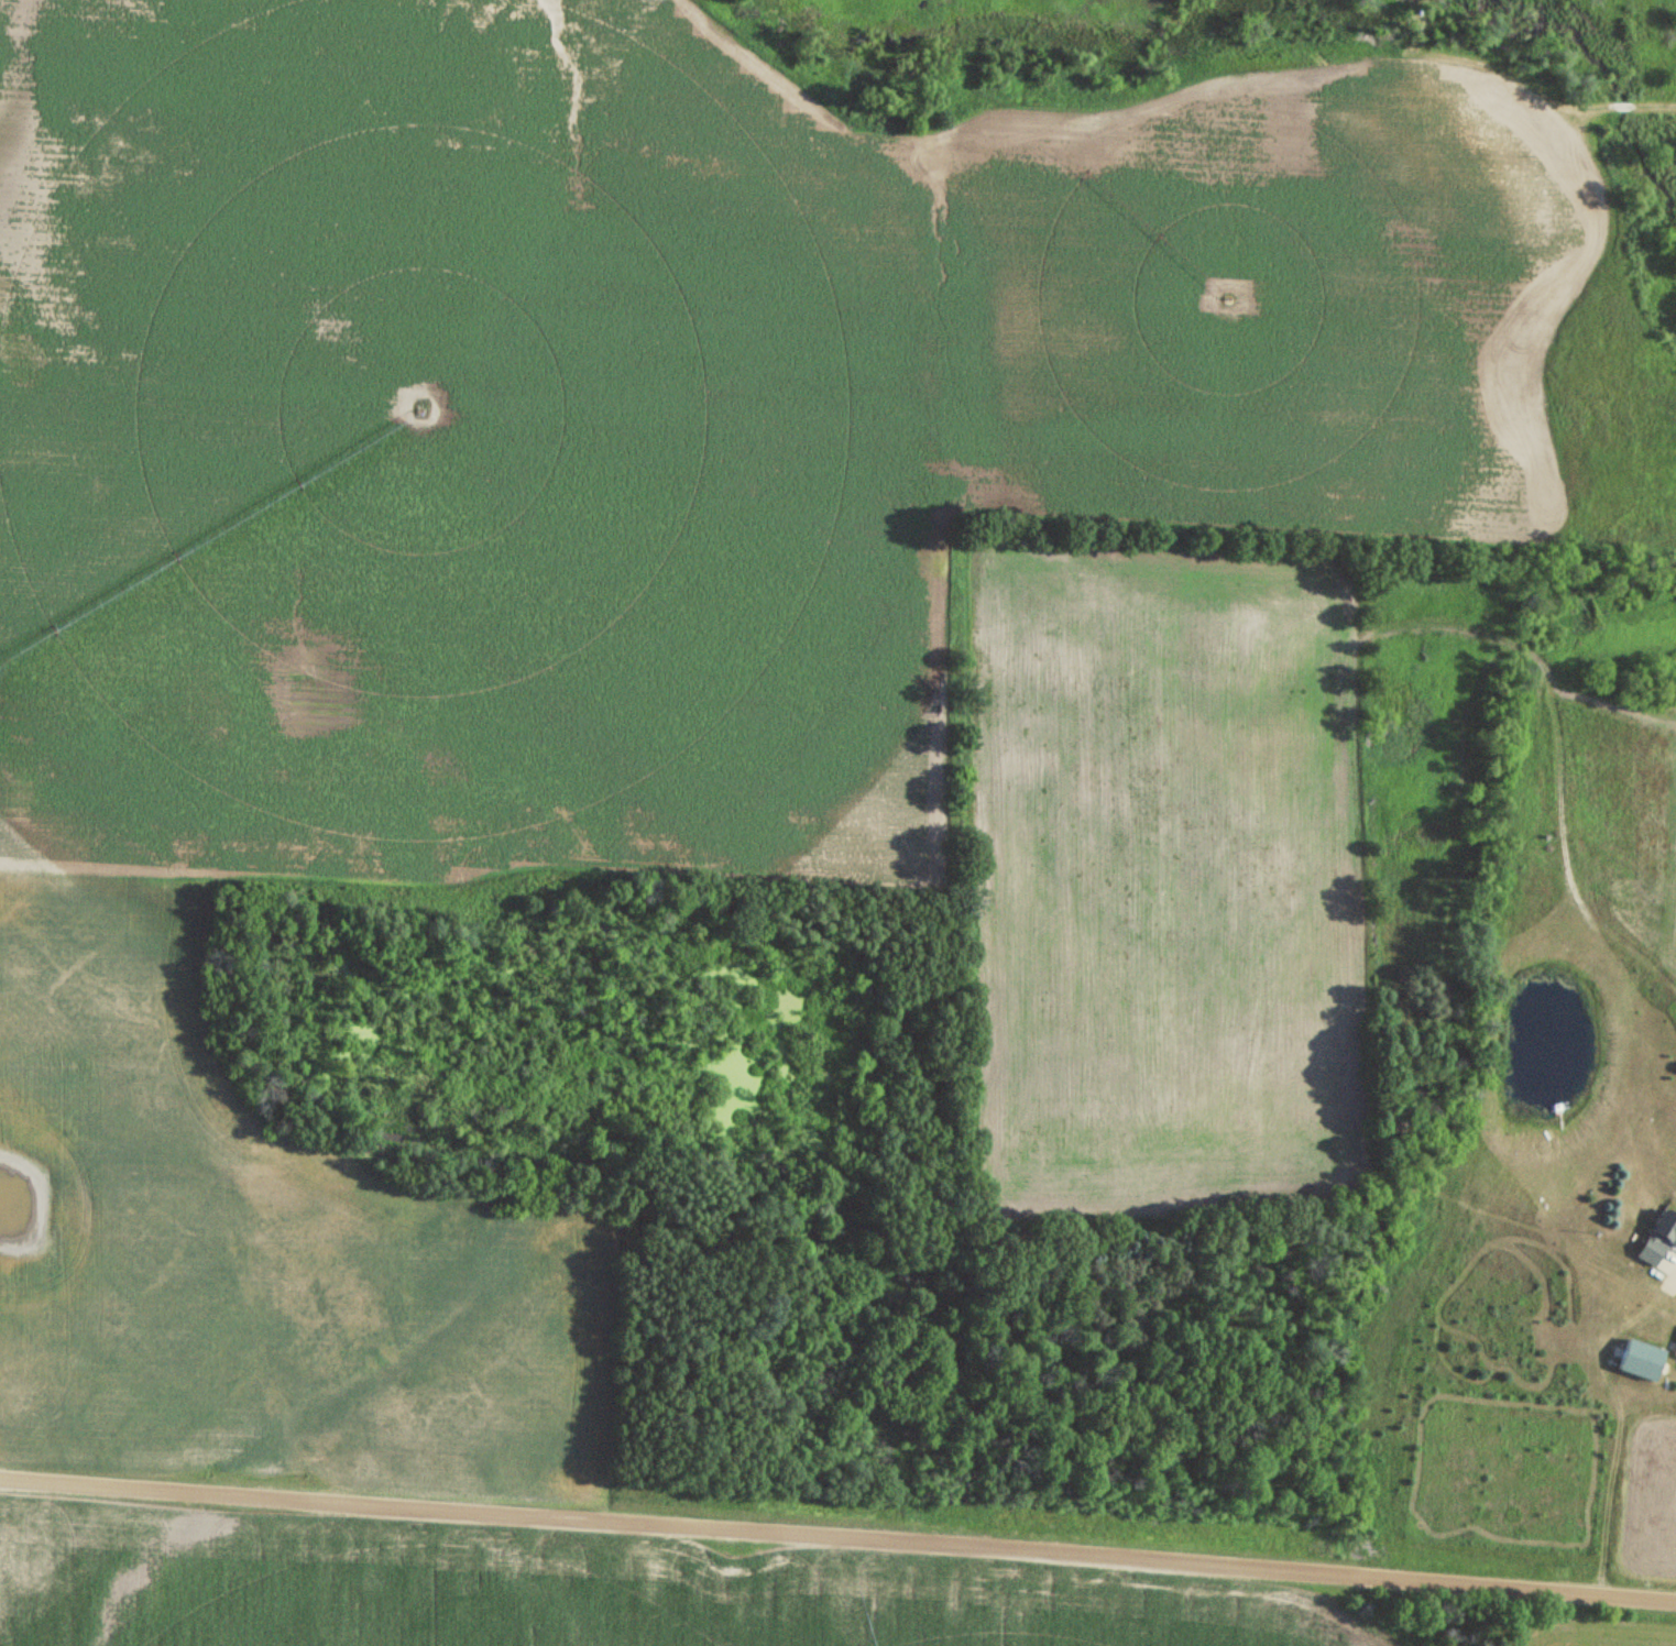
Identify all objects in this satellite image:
building: (1657, 1238)
road: (1668, 1264)
building: (1675, 1354)
road: (837, 1537)

